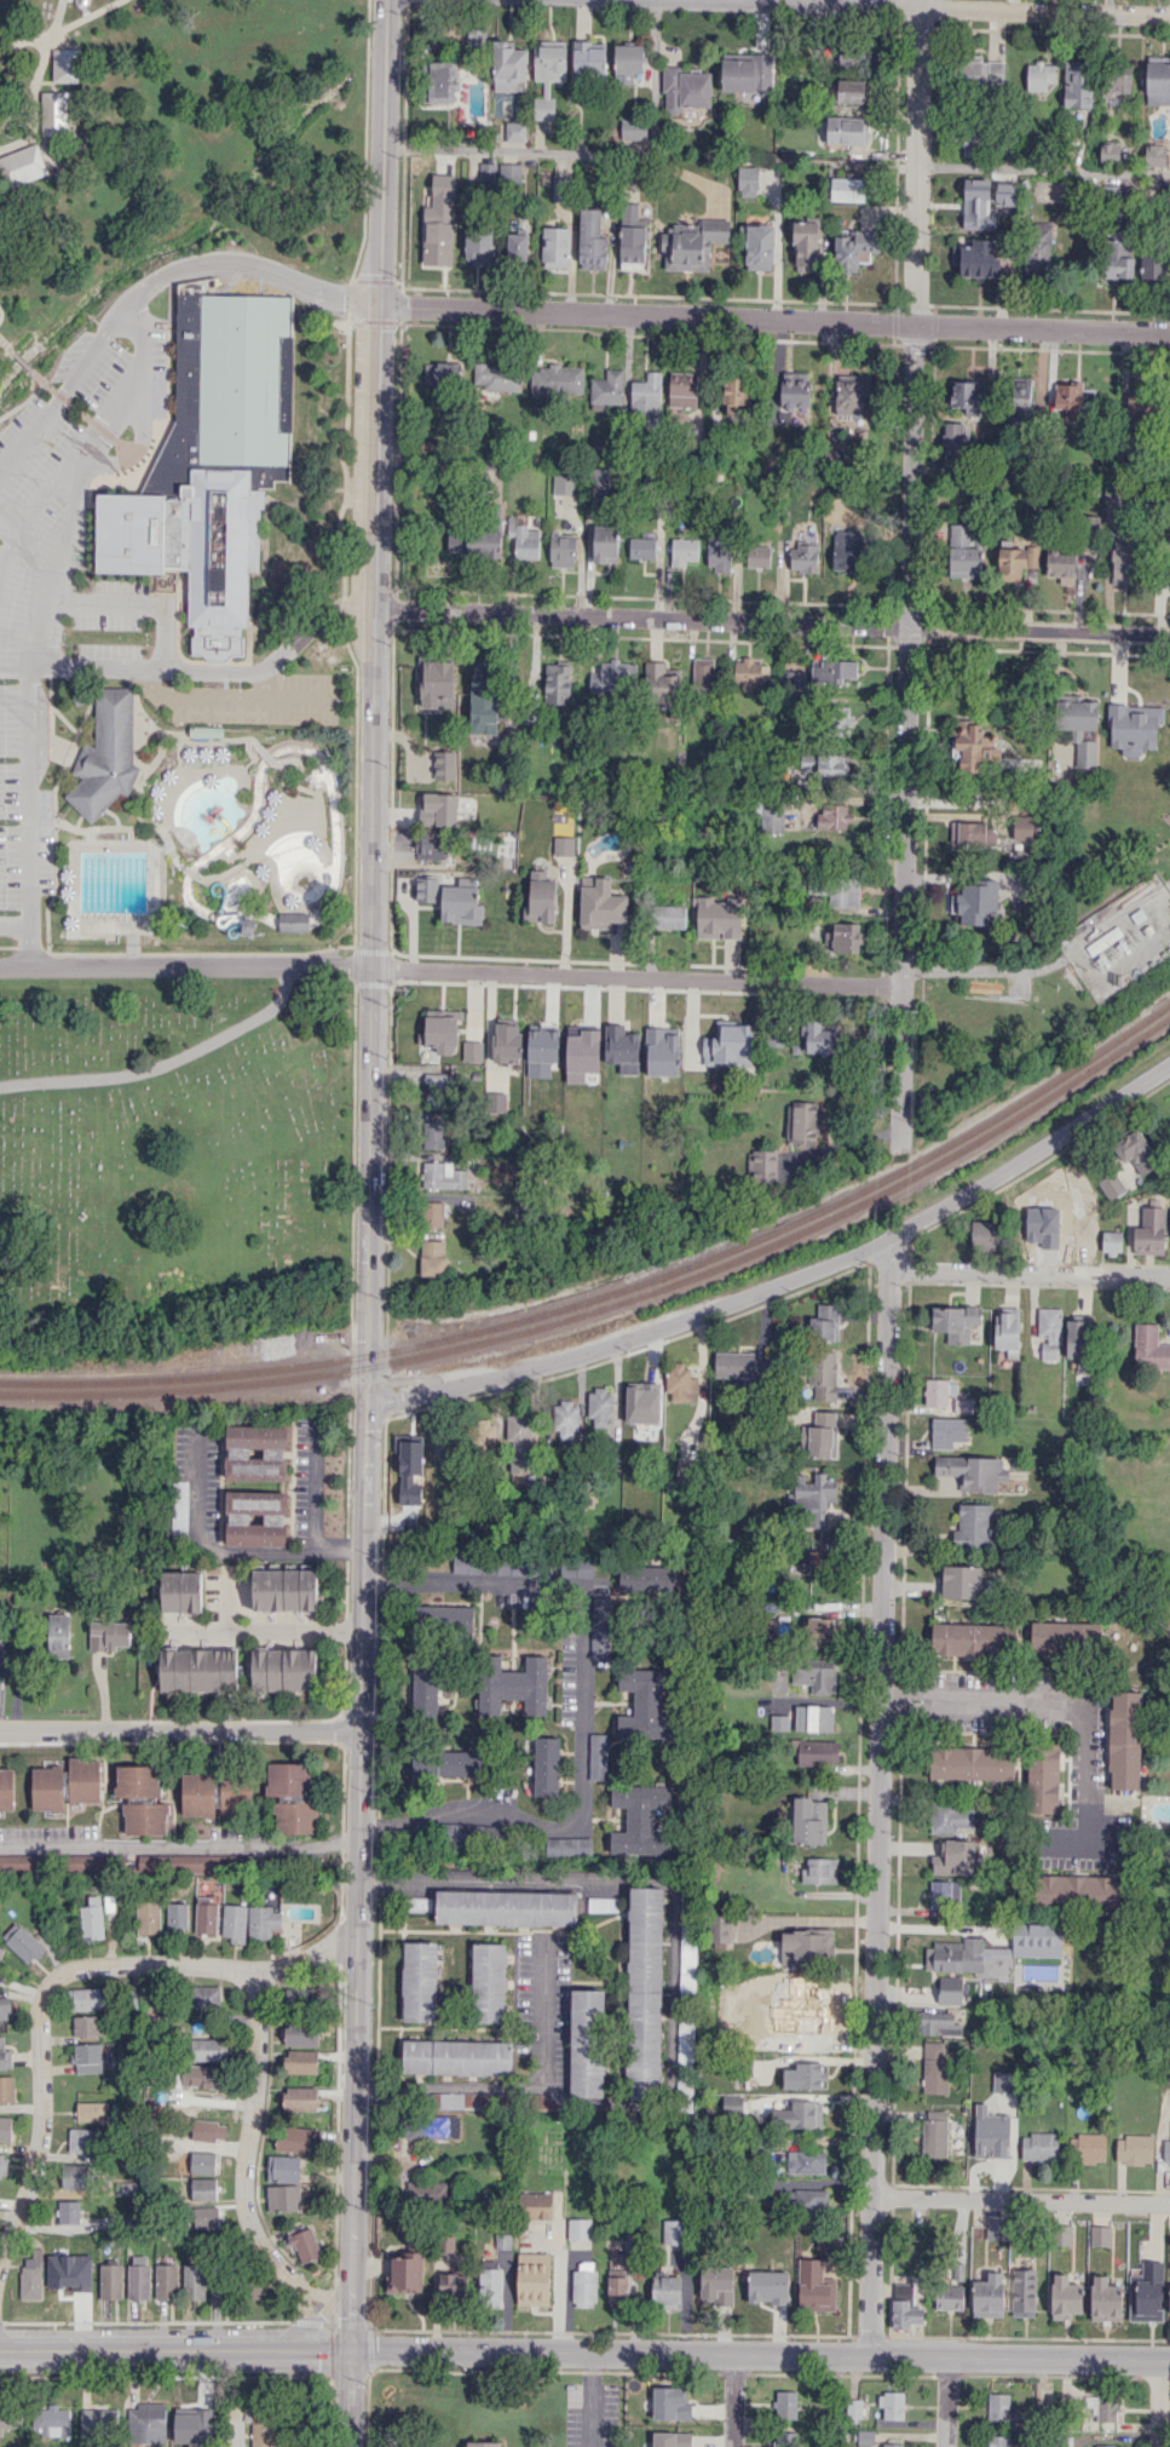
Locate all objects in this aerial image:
road: (940, 6)
road: (62, 29)
building: (589, 56)
building: (854, 57)
building: (628, 62)
building: (65, 64)
building: (508, 65)
building: (981, 71)
building: (747, 73)
building: (1039, 75)
building: (1158, 75)
building: (548, 76)
building: (442, 81)
road: (35, 82)
building: (1077, 84)
building: (1116, 85)
building: (685, 90)
building: (851, 91)
building: (54, 113)
building: (633, 128)
building: (515, 131)
building: (845, 131)
building: (970, 142)
road: (380, 151)
road: (511, 151)
building: (1108, 151)
building: (1154, 153)
road: (916, 161)
building: (22, 165)
road: (1043, 170)
building: (511, 173)
building: (748, 182)
building: (847, 189)
building: (1050, 191)
building: (1005, 193)
building: (976, 205)
building: (632, 239)
building: (592, 240)
building: (438, 241)
building: (693, 245)
building: (759, 246)
building: (806, 246)
building: (479, 247)
building: (517, 247)
building: (555, 248)
building: (976, 258)
building: (1118, 259)
building: (1033, 262)
building: (1154, 266)
road: (151, 283)
traffic signals: (376, 305)
road: (772, 318)
road: (5, 351)
road: (22, 360)
building: (443, 375)
building: (498, 377)
building: (557, 379)
building: (607, 387)
building: (230, 389)
building: (682, 390)
building: (794, 391)
building: (964, 392)
building: (646, 394)
building: (736, 394)
road: (30, 396)
building: (851, 397)
building: (1020, 398)
building: (1073, 400)
road: (94, 421)
road: (86, 438)
road: (139, 442)
park: (183, 475)
building: (599, 478)
building: (563, 484)
building: (1087, 532)
building: (523, 538)
building: (473, 541)
building: (605, 544)
building: (190, 547)
building: (641, 548)
building: (561, 550)
building: (846, 550)
building: (684, 551)
building: (963, 553)
building: (719, 555)
road: (57, 556)
building: (757, 556)
building: (803, 556)
building: (1015, 562)
building: (1123, 562)
parking lot: (63, 563)
building: (1061, 564)
road: (133, 603)
road: (771, 624)
road: (197, 670)
building: (750, 671)
building: (834, 671)
building: (703, 672)
building: (611, 676)
building: (794, 679)
road: (267, 683)
building: (437, 683)
building: (557, 683)
building: (663, 684)
road: (231, 697)
building: (483, 699)
parking lot: (260, 701)
road: (50, 713)
building: (1079, 728)
building: (1132, 728)
building: (204, 730)
road: (907, 734)
road: (68, 753)
building: (106, 754)
road: (267, 756)
road: (68, 757)
road: (154, 758)
building: (444, 764)
building: (824, 764)
road: (951, 802)
building: (439, 810)
road: (29, 816)
building: (771, 816)
building: (834, 817)
road: (288, 822)
building: (1022, 826)
road: (98, 827)
road: (370, 829)
road: (88, 833)
building: (972, 834)
building: (565, 845)
building: (431, 846)
road: (191, 872)
road: (155, 881)
building: (843, 892)
building: (451, 898)
building: (542, 898)
building: (600, 903)
building: (976, 903)
building: (720, 914)
building: (668, 915)
building: (293, 921)
road: (15, 925)
building: (848, 937)
road: (1045, 963)
road: (450, 969)
building: (440, 1029)
building: (507, 1034)
building: (547, 1034)
building: (815, 1036)
building: (665, 1038)
building: (584, 1039)
building: (776, 1040)
building: (621, 1045)
building: (730, 1045)
building: (473, 1051)
building: (438, 1090)
building: (577, 1090)
building: (497, 1104)
building: (802, 1122)
building: (433, 1135)
park: (167, 1145)
building: (1135, 1150)
building: (761, 1165)
building: (443, 1174)
building: (1111, 1185)
building: (432, 1214)
railway: (786, 1222)
building: (1151, 1231)
building: (984, 1233)
railway: (786, 1235)
building: (1111, 1241)
building: (433, 1257)
road: (1030, 1271)
road: (786, 1279)
building: (824, 1322)
building: (955, 1322)
building: (1008, 1329)
building: (1049, 1332)
building: (1078, 1343)
building: (1149, 1346)
building: (738, 1365)
railway: (183, 1374)
building: (823, 1374)
road: (365, 1383)
building: (680, 1383)
railway: (183, 1388)
building: (935, 1391)
building: (641, 1402)
building: (599, 1406)
building: (567, 1419)
building: (946, 1431)
building: (484, 1435)
building: (445, 1446)
building: (519, 1448)
building: (241, 1453)
building: (682, 1471)
building: (973, 1471)
road: (313, 1487)
building: (814, 1499)
building: (179, 1509)
building: (241, 1518)
building: (973, 1526)
road: (221, 1550)
building: (819, 1557)
building: (492, 1564)
building: (577, 1568)
building: (650, 1578)
building: (961, 1581)
building: (286, 1590)
building: (181, 1591)
road: (361, 1616)
building: (443, 1619)
building: (600, 1626)
road: (263, 1630)
building: (819, 1631)
building: (58, 1635)
building: (108, 1635)
building: (1066, 1635)
building: (975, 1639)
building: (284, 1668)
building: (198, 1670)
building: (814, 1678)
building: (514, 1684)
building: (427, 1691)
road: (1054, 1701)
building: (647, 1704)
road: (583, 1705)
building: (813, 1718)
building: (779, 1722)
road: (179, 1730)
building: (1125, 1740)
building: (817, 1752)
building: (598, 1756)
building: (448, 1763)
building: (973, 1763)
building: (547, 1767)
building: (1043, 1777)
building: (83, 1780)
building: (137, 1780)
building: (6, 1788)
building: (47, 1788)
building: (197, 1794)
building: (235, 1794)
building: (292, 1797)
road: (881, 1798)
building: (950, 1817)
building: (145, 1819)
building: (640, 1820)
building: (809, 1821)
building: (468, 1832)
road: (178, 1845)
building: (567, 1845)
road: (357, 1851)
building: (953, 1857)
building: (23, 1862)
building: (83, 1862)
building: (197, 1862)
building: (820, 1871)
building: (1077, 1890)
building: (944, 1894)
road: (673, 1901)
road: (356, 1905)
building: (505, 1907)
building: (206, 1915)
building: (94, 1917)
building: (148, 1917)
building: (177, 1917)
building: (234, 1922)
building: (263, 1922)
building: (720, 1929)
building: (22, 1942)
building: (805, 1945)
building: (1, 1952)
building: (995, 1953)
building: (687, 1958)
road: (202, 1965)
building: (420, 1981)
building: (490, 1982)
building: (950, 1989)
building: (645, 1991)
building: (206, 1997)
building: (301, 1997)
building: (83, 1998)
building: (5, 2007)
building: (938, 2023)
building: (87, 2024)
building: (812, 2030)
building: (300, 2034)
building: (757, 2038)
building: (587, 2043)
building: (685, 2044)
building: (206, 2049)
building: (4, 2055)
building: (454, 2056)
building: (87, 2057)
building: (301, 2061)
building: (934, 2067)
building: (805, 2075)
building: (1003, 2080)
road: (519, 2086)
building: (6, 2089)
building: (299, 2098)
building: (462, 2100)
building: (92, 2110)
road: (40, 2116)
building: (430, 2126)
building: (5, 2129)
building: (208, 2131)
building: (934, 2132)
building: (991, 2133)
building: (293, 2138)
building: (82, 2139)
building: (1039, 2147)
building: (1087, 2148)
building: (1134, 2149)
building: (1166, 2149)
building: (806, 2161)
building: (204, 2162)
building: (2, 2164)
road: (246, 2165)
building: (283, 2167)
building: (75, 2176)
building: (127, 2188)
building: (203, 2188)
road: (352, 2189)
building: (283, 2198)
building: (807, 2199)
road: (1021, 2199)
building: (536, 2205)
building: (68, 2211)
building: (203, 2217)
building: (578, 2228)
building: (996, 2229)
building: (674, 2231)
building: (1062, 2234)
building: (1100, 2235)
building: (502, 2240)
building: (305, 2245)
building: (958, 2270)
building: (405, 2274)
building: (31, 2275)
building: (138, 2277)
building: (534, 2279)
building: (81, 2280)
building: (110, 2281)
building: (166, 2281)
building: (194, 2281)
building: (716, 2284)
building: (249, 2285)
building: (453, 2285)
building: (583, 2285)
building: (767, 2286)
building: (814, 2286)
building: (490, 2287)
building: (617, 2287)
building: (670, 2288)
building: (1022, 2292)
building: (1146, 2292)
building: (987, 2296)
building: (949, 2297)
building: (1065, 2297)
building: (1105, 2299)
building: (1169, 2300)
building: (904, 2307)
road: (322, 2314)
road: (307, 2317)
road: (584, 2351)
road: (589, 2400)
road: (733, 2401)
road: (946, 2402)
building: (670, 2403)
road: (1157, 2403)
building: (785, 2405)
building: (892, 2405)
building: (998, 2407)
building: (1106, 2407)
building: (853, 2408)
building: (6, 2417)
building: (51, 2420)
building: (98, 2420)
building: (146, 2423)
building: (191, 2424)
building: (865, 2436)
building: (672, 2439)
building: (784, 2439)
building: (997, 2441)
building: (484, 2443)
building: (892, 2445)
building: (1105, 2446)

